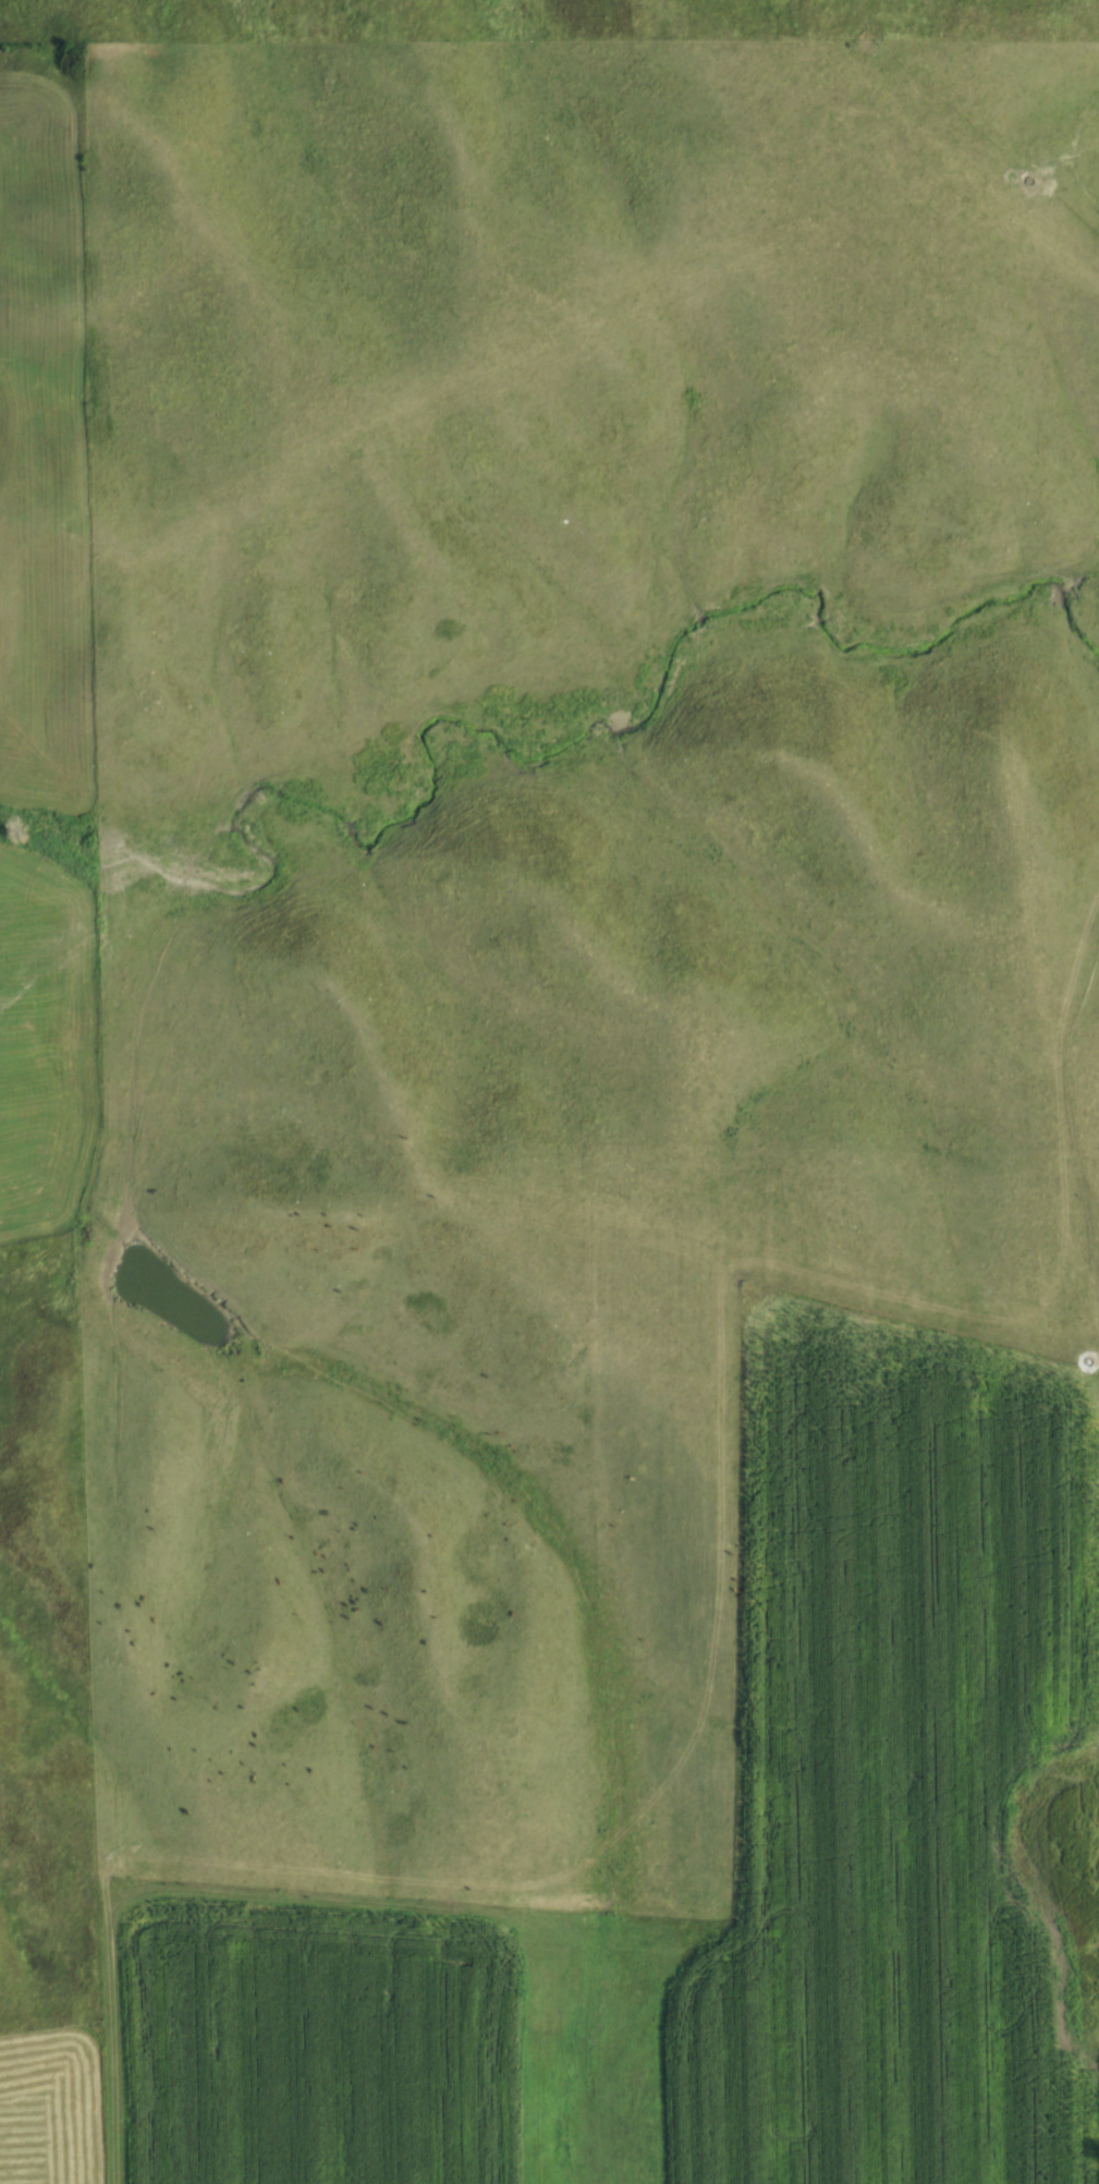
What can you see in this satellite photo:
crop: (902, 1773)
crop: (313, 2046)

